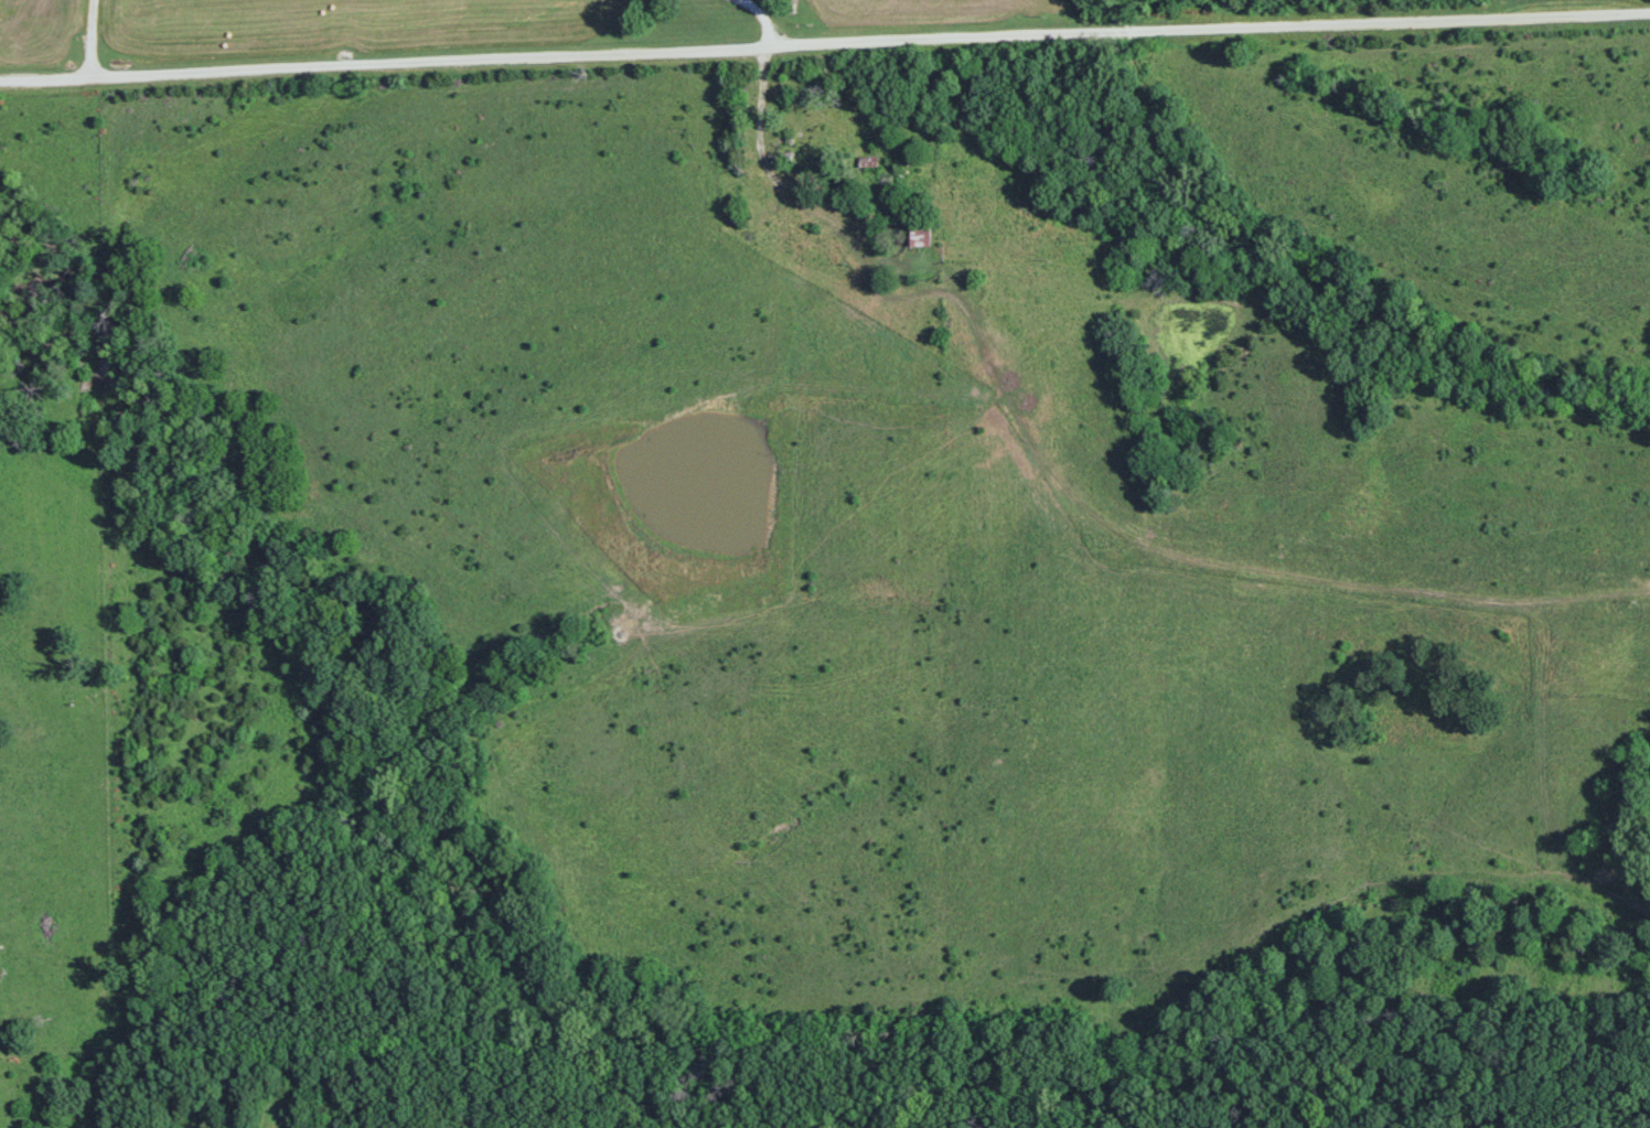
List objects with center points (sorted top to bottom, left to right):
road: (90, 36)
road: (824, 40)
building: (800, 115)
building: (921, 233)

